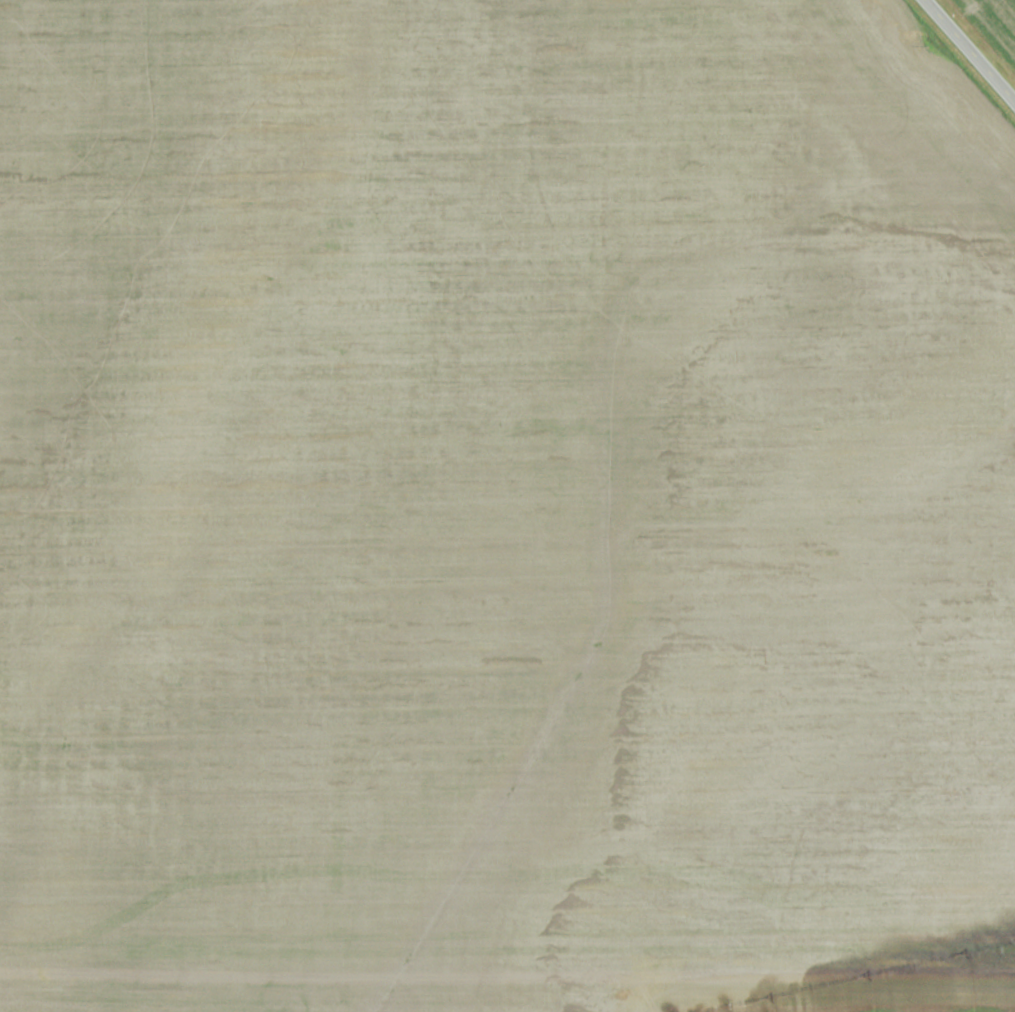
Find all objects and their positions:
road: (970, 49)

